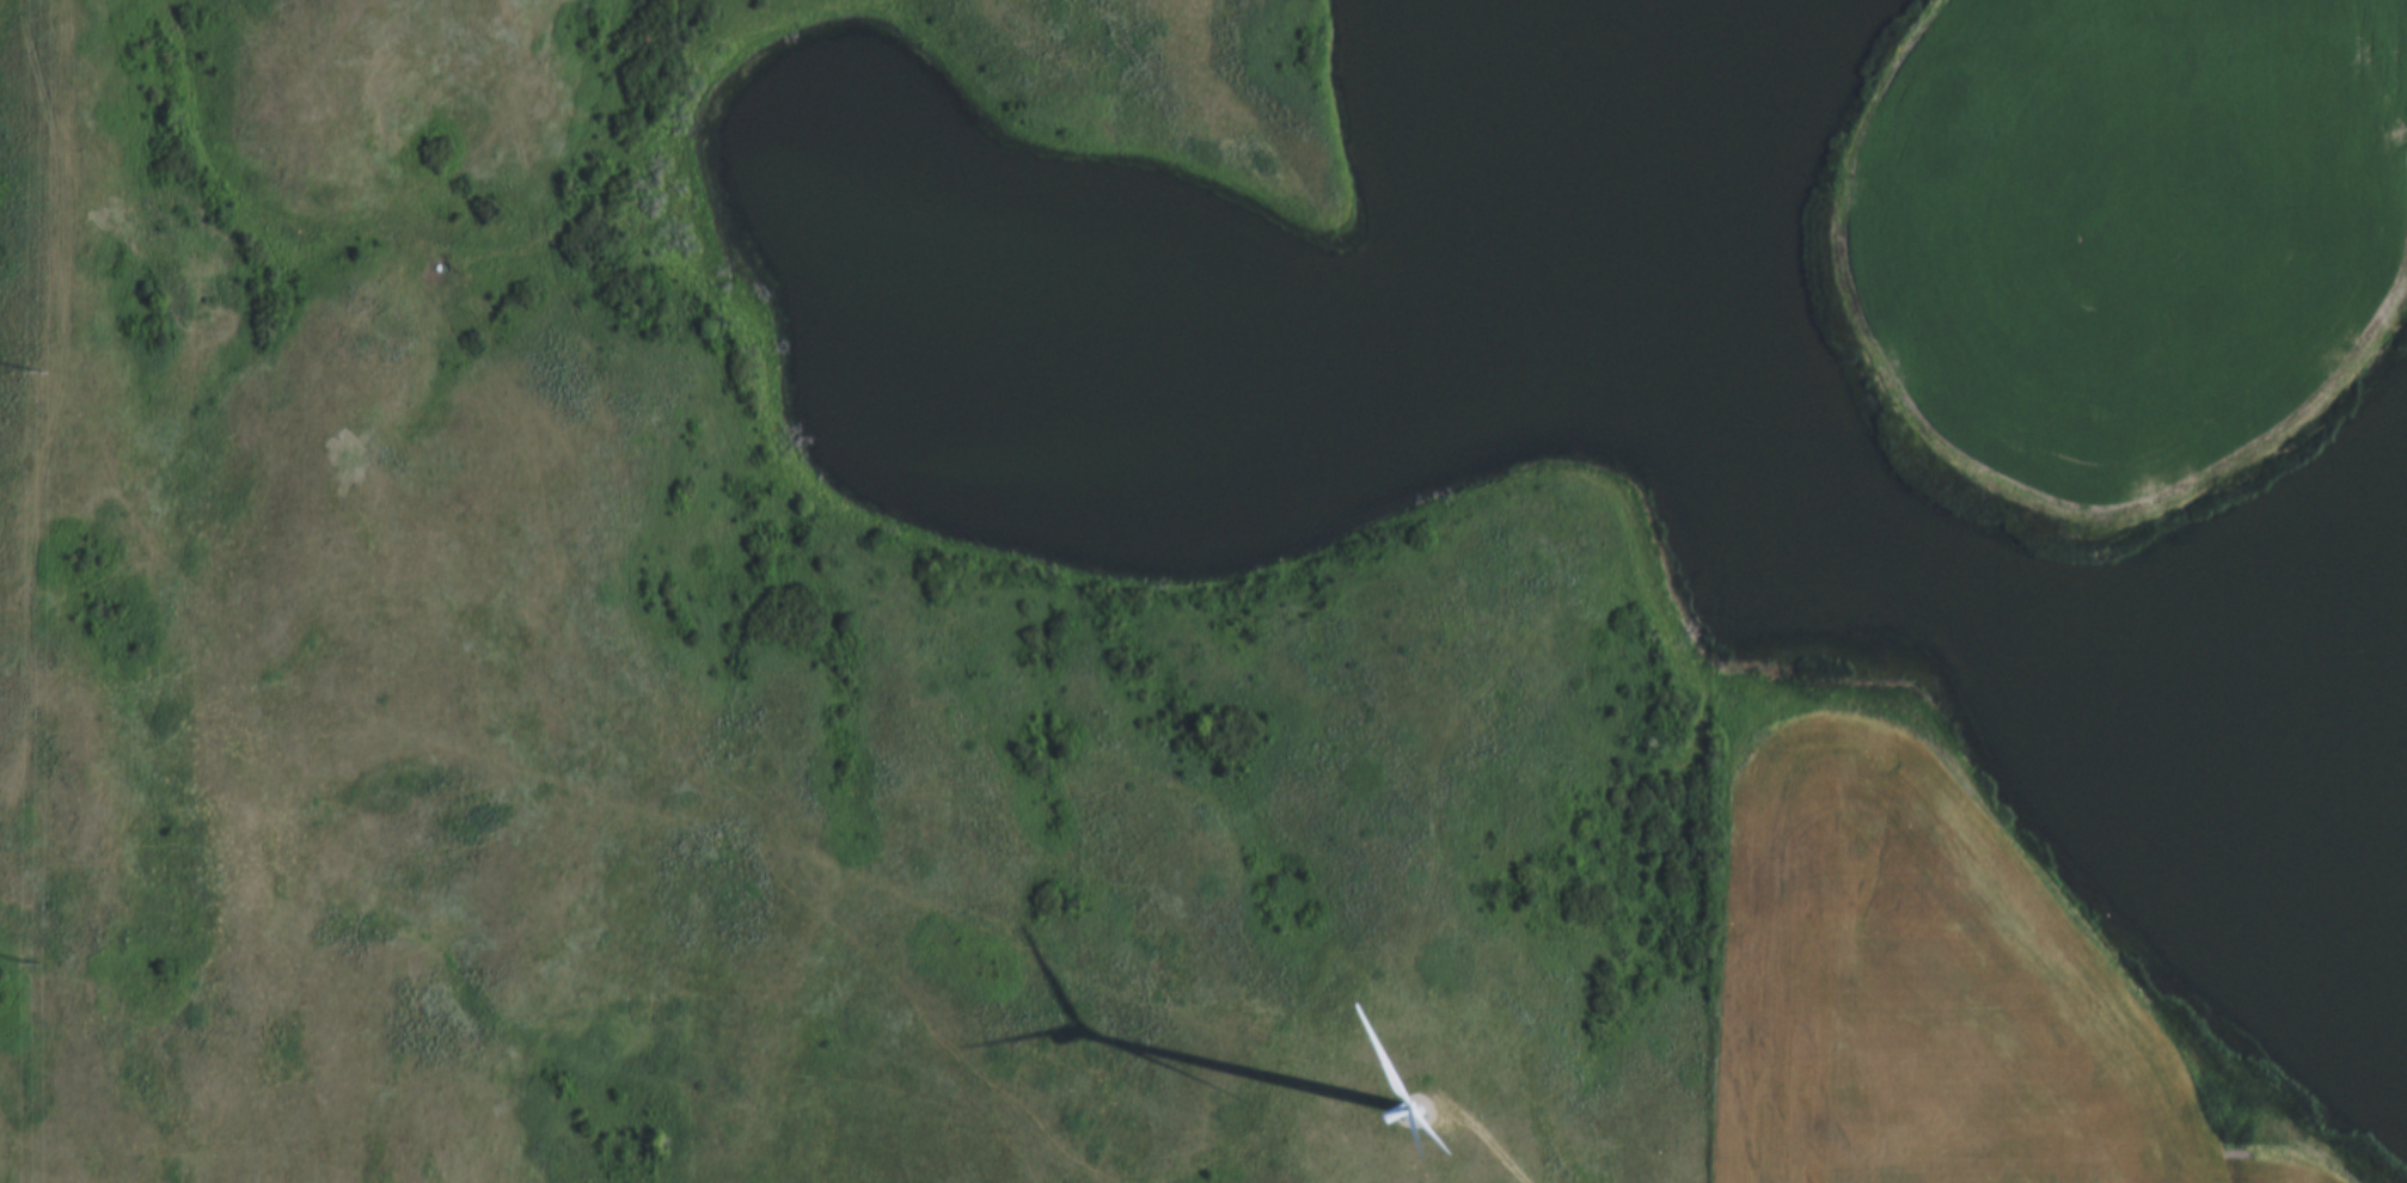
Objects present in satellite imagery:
road: (35, 617)
wind turbine: (1414, 1115)
road: (1474, 1134)

